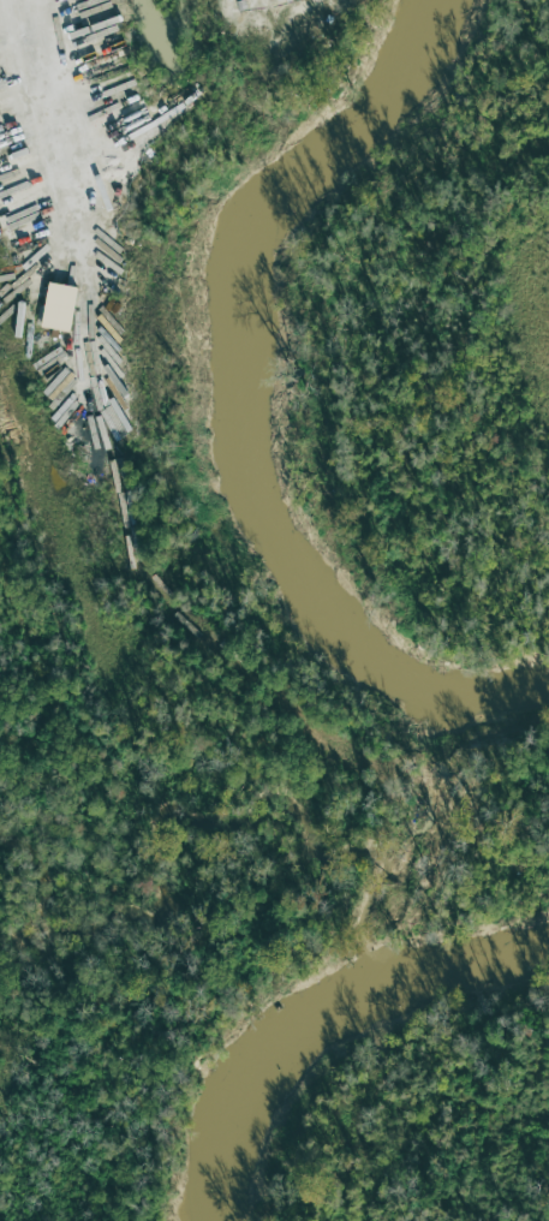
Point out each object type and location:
road: (43, 131)
building: (55, 306)
river: (221, 416)
river: (318, 1015)

